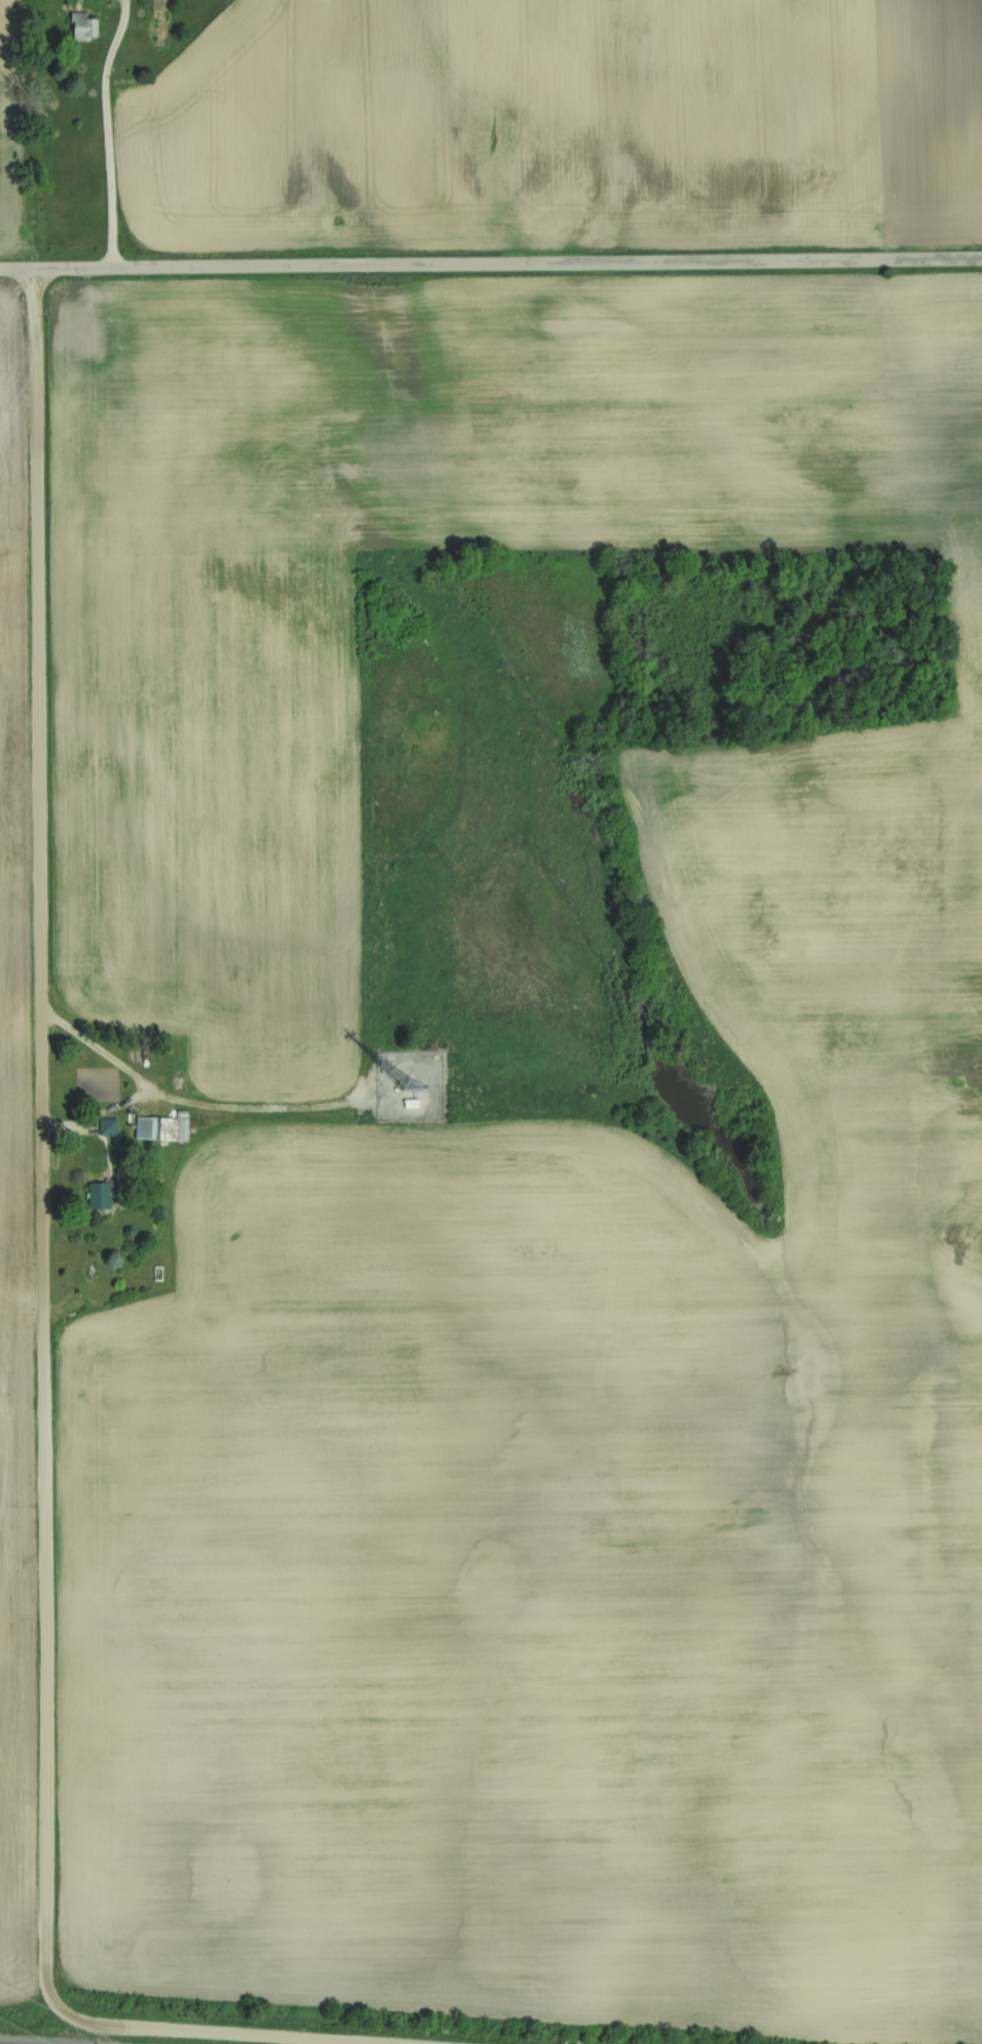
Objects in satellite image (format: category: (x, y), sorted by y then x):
building: (160, 23)
building: (82, 26)
road: (104, 132)
road: (490, 262)
road: (185, 1100)
road: (97, 1117)
building: (144, 1127)
building: (99, 1194)
building: (89, 1278)
road: (45, 1308)
railway: (10, 2043)

